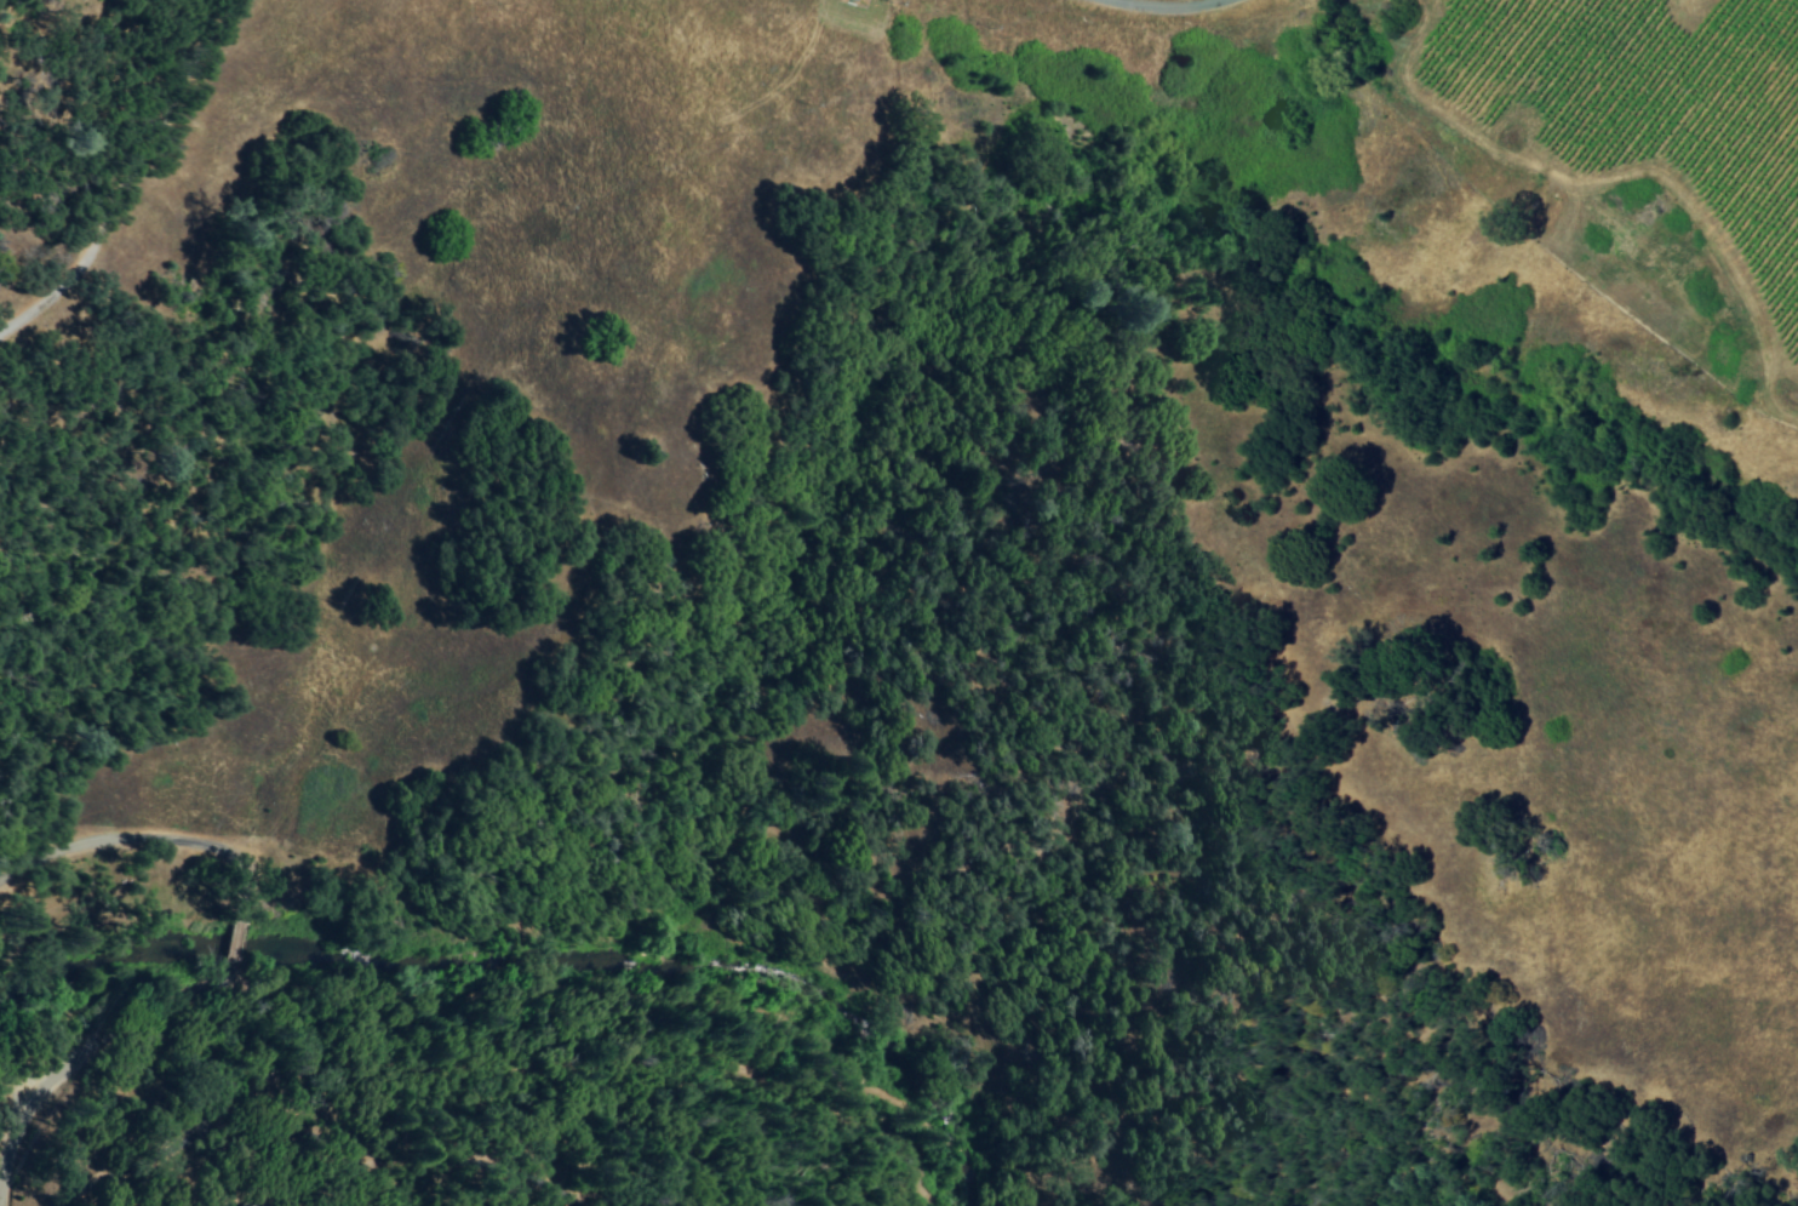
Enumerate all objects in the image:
road: (1150, 5)
road: (136, 171)
road: (147, 840)
road: (235, 953)
river: (522, 956)
road: (74, 1059)

